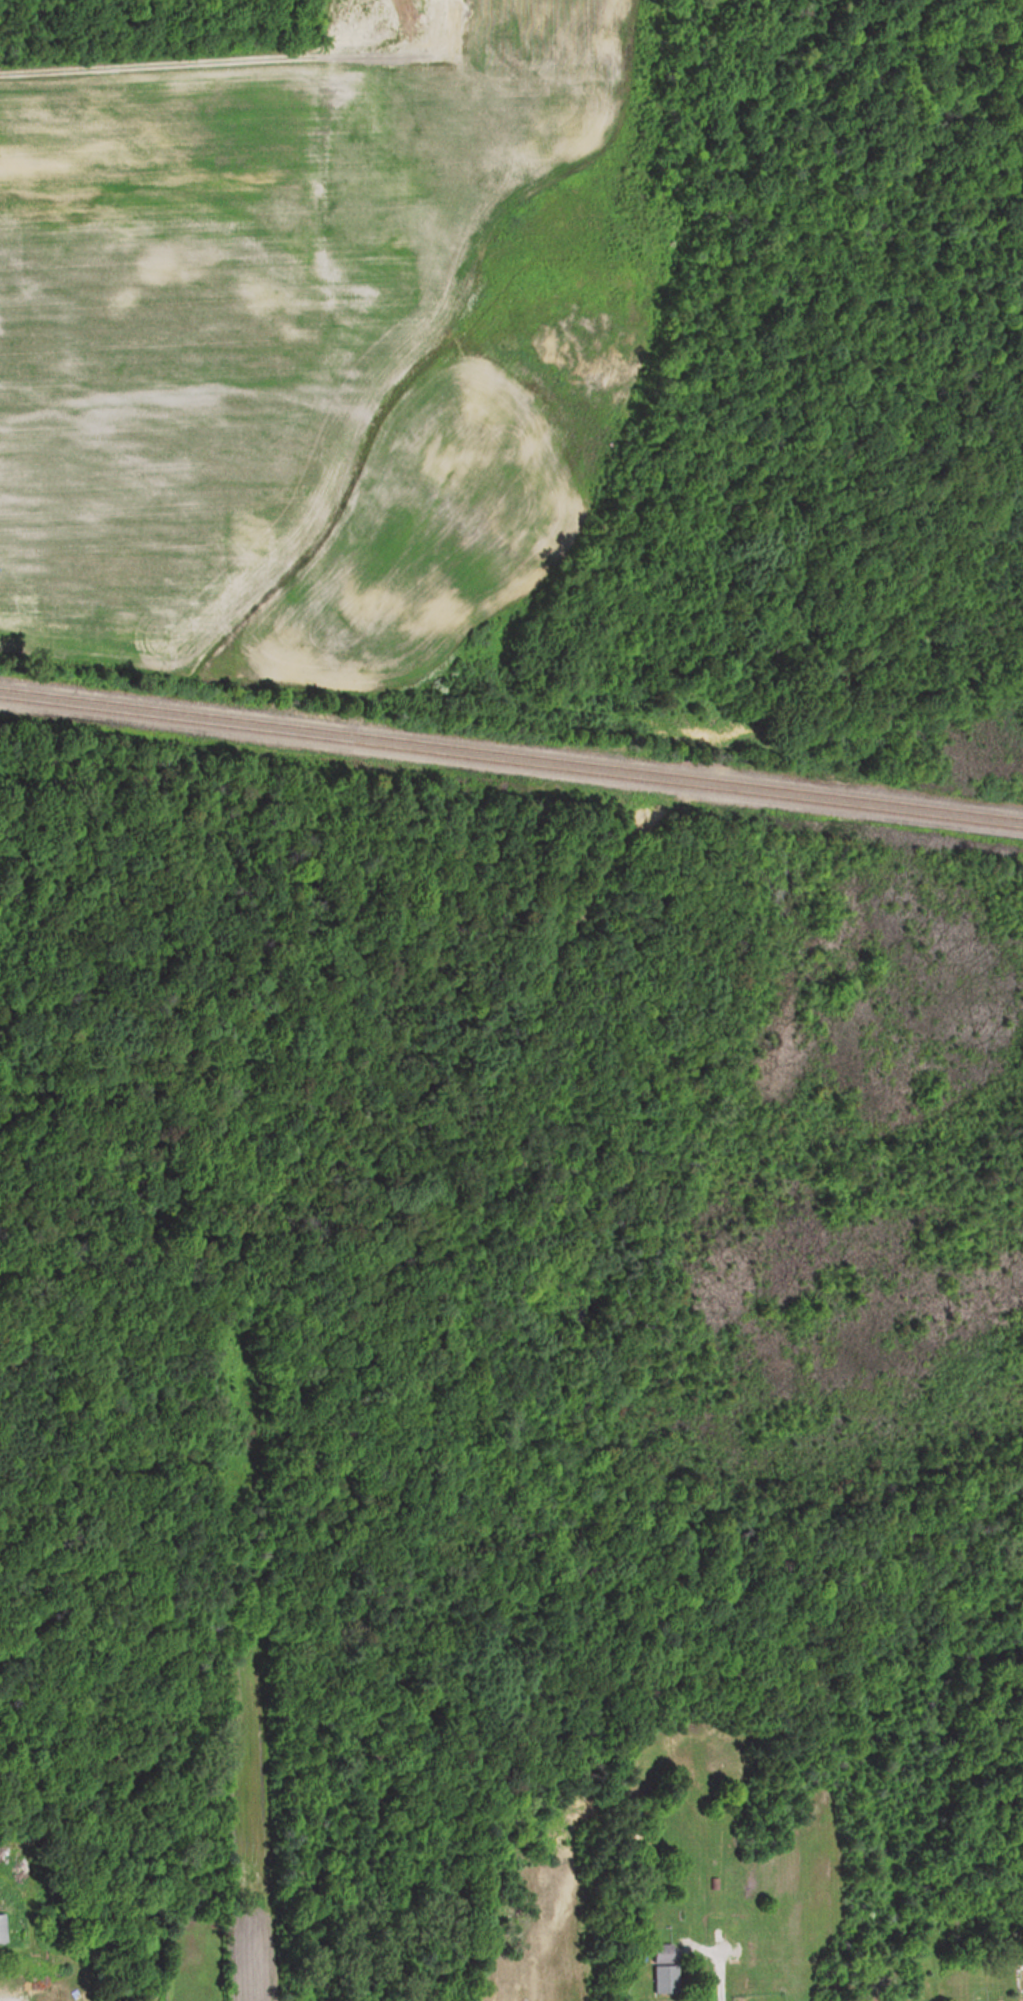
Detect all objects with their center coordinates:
railway: (511, 753)
railway: (511, 763)
park: (77, 1014)
building: (660, 1968)
road: (721, 1983)

